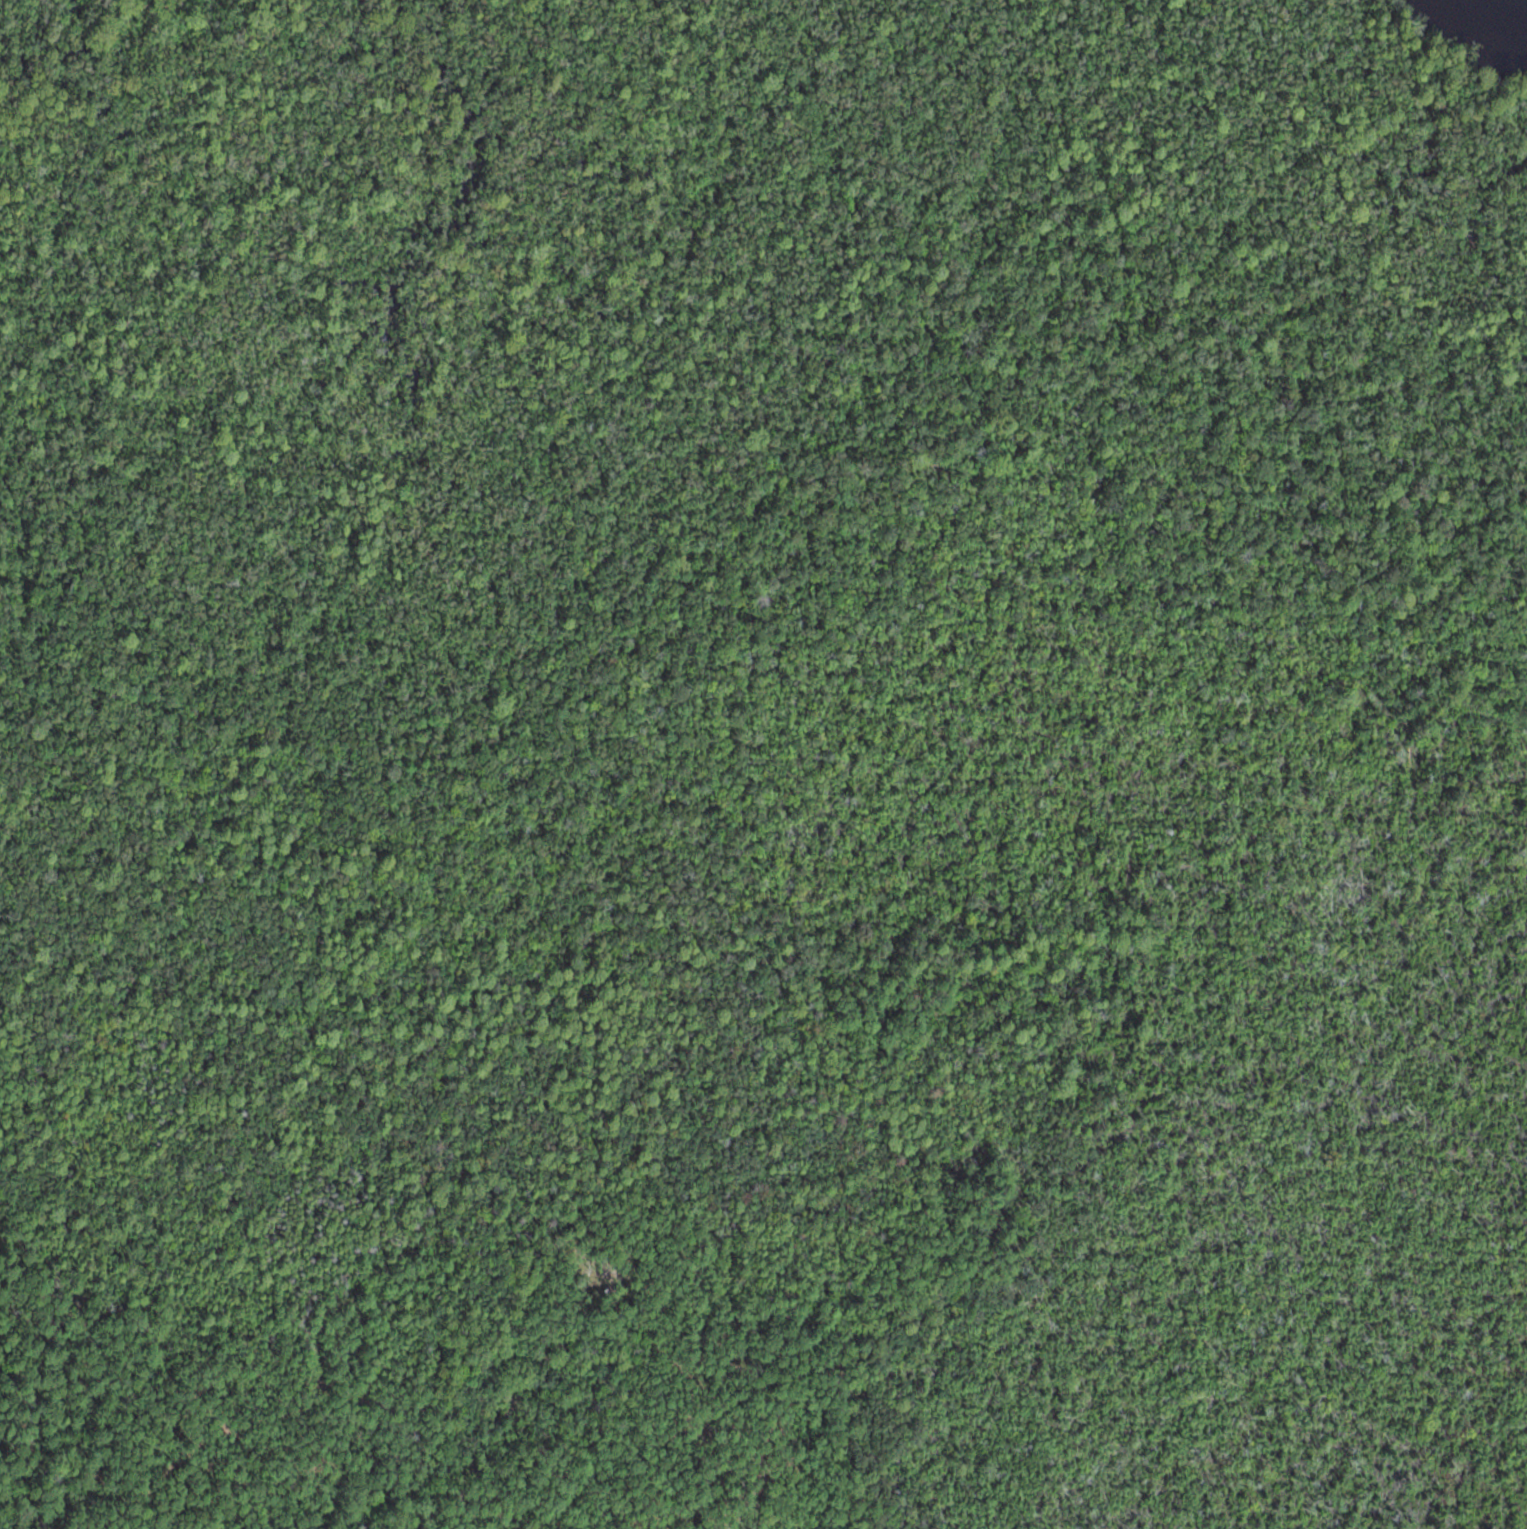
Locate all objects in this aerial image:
road: (763, 1511)

